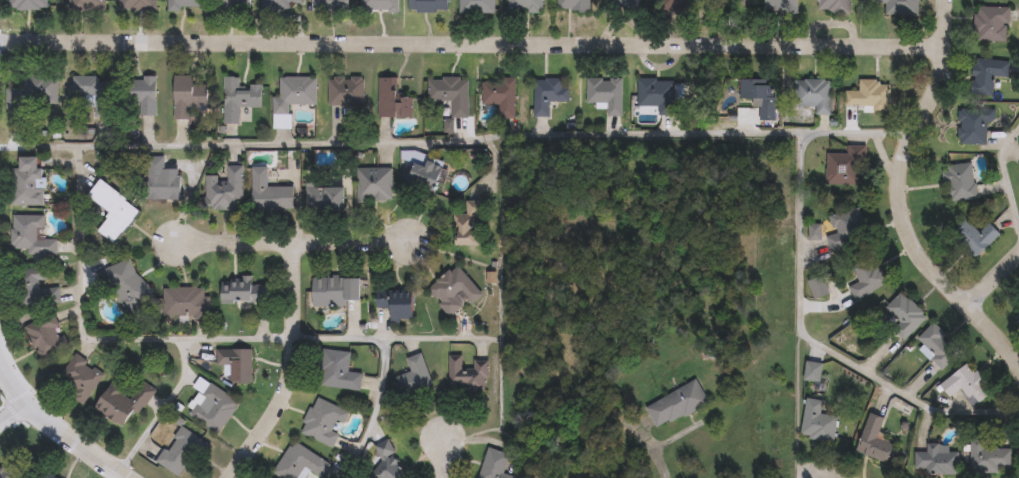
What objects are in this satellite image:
building: (621, 3)
building: (28, 4)
building: (184, 4)
building: (277, 4)
building: (379, 4)
building: (87, 5)
building: (138, 5)
building: (233, 5)
building: (329, 5)
building: (427, 5)
building: (572, 5)
building: (668, 5)
building: (780, 5)
building: (476, 6)
building: (524, 6)
building: (833, 6)
building: (899, 7)
building: (991, 24)
road: (472, 46)
building: (987, 74)
building: (32, 89)
building: (345, 91)
building: (93, 92)
building: (450, 93)
building: (605, 94)
building: (655, 94)
building: (142, 95)
building: (499, 95)
building: (548, 95)
building: (868, 95)
building: (187, 96)
building: (815, 96)
building: (292, 97)
building: (238, 98)
building: (391, 99)
building: (765, 103)
building: (974, 125)
road: (493, 140)
building: (846, 165)
road: (1004, 172)
building: (425, 176)
building: (161, 180)
building: (26, 182)
building: (960, 182)
building: (374, 184)
building: (224, 189)
building: (268, 192)
road: (903, 197)
building: (325, 198)
building: (113, 210)
building: (467, 224)
building: (845, 230)
building: (814, 231)
building: (30, 235)
building: (973, 238)
road: (293, 241)
building: (867, 277)
road: (994, 277)
building: (125, 284)
building: (36, 287)
building: (818, 287)
building: (243, 290)
building: (334, 290)
building: (453, 290)
building: (186, 301)
building: (396, 303)
building: (1018, 306)
building: (1017, 316)
building: (901, 317)
building: (46, 336)
road: (98, 342)
road: (814, 345)
building: (937, 346)
road: (385, 356)
building: (236, 363)
road: (290, 368)
building: (337, 370)
building: (812, 371)
building: (466, 374)
building: (415, 377)
building: (80, 378)
building: (966, 384)
building: (123, 402)
building: (676, 404)
building: (211, 406)
road: (798, 407)
road: (161, 410)
road: (13, 413)
building: (323, 420)
building: (817, 422)
road: (56, 428)
building: (873, 439)
road: (48, 440)
building: (180, 450)
road: (446, 458)
building: (989, 458)
building: (936, 460)
building: (300, 462)
building: (387, 464)
building: (493, 464)
road: (822, 470)
building: (7, 473)
building: (52, 475)

